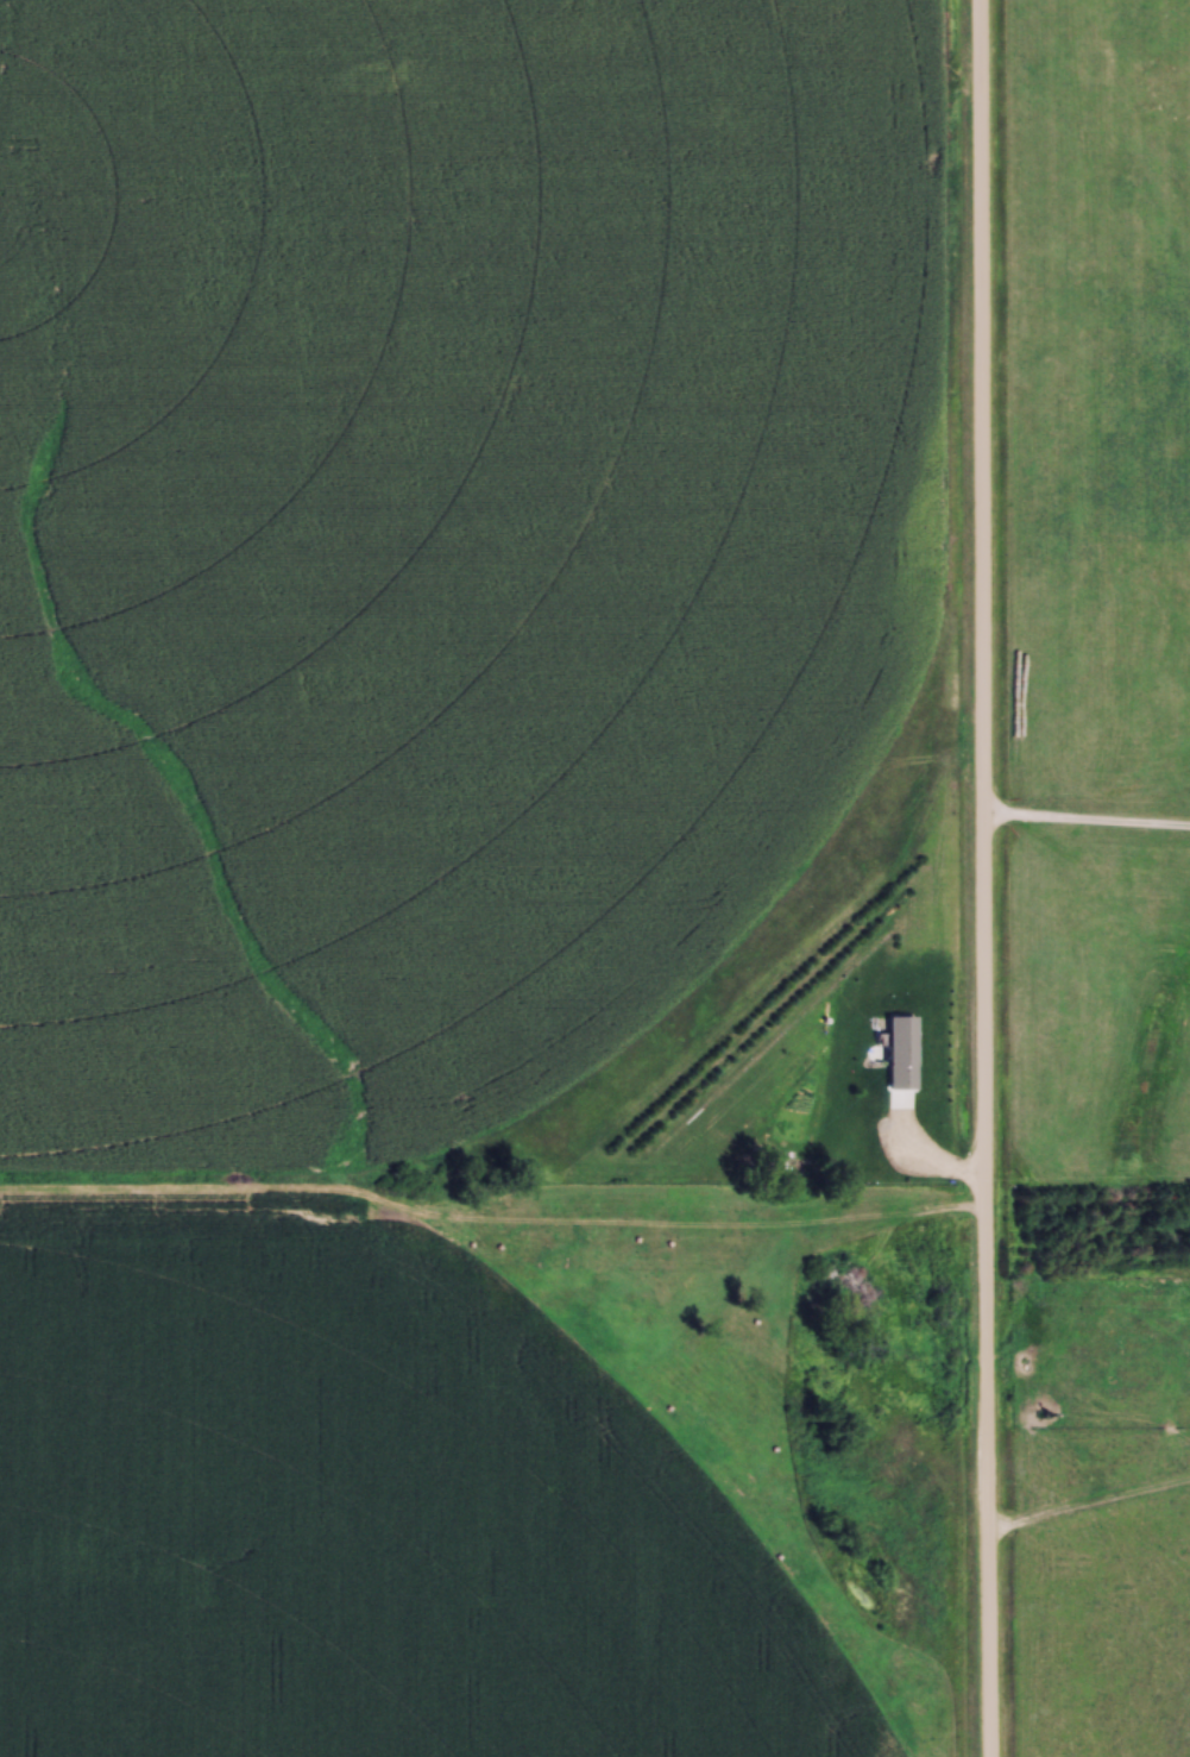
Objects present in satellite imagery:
airport: (1097, 585)
road: (1087, 828)
road: (984, 878)
road: (1089, 1513)

